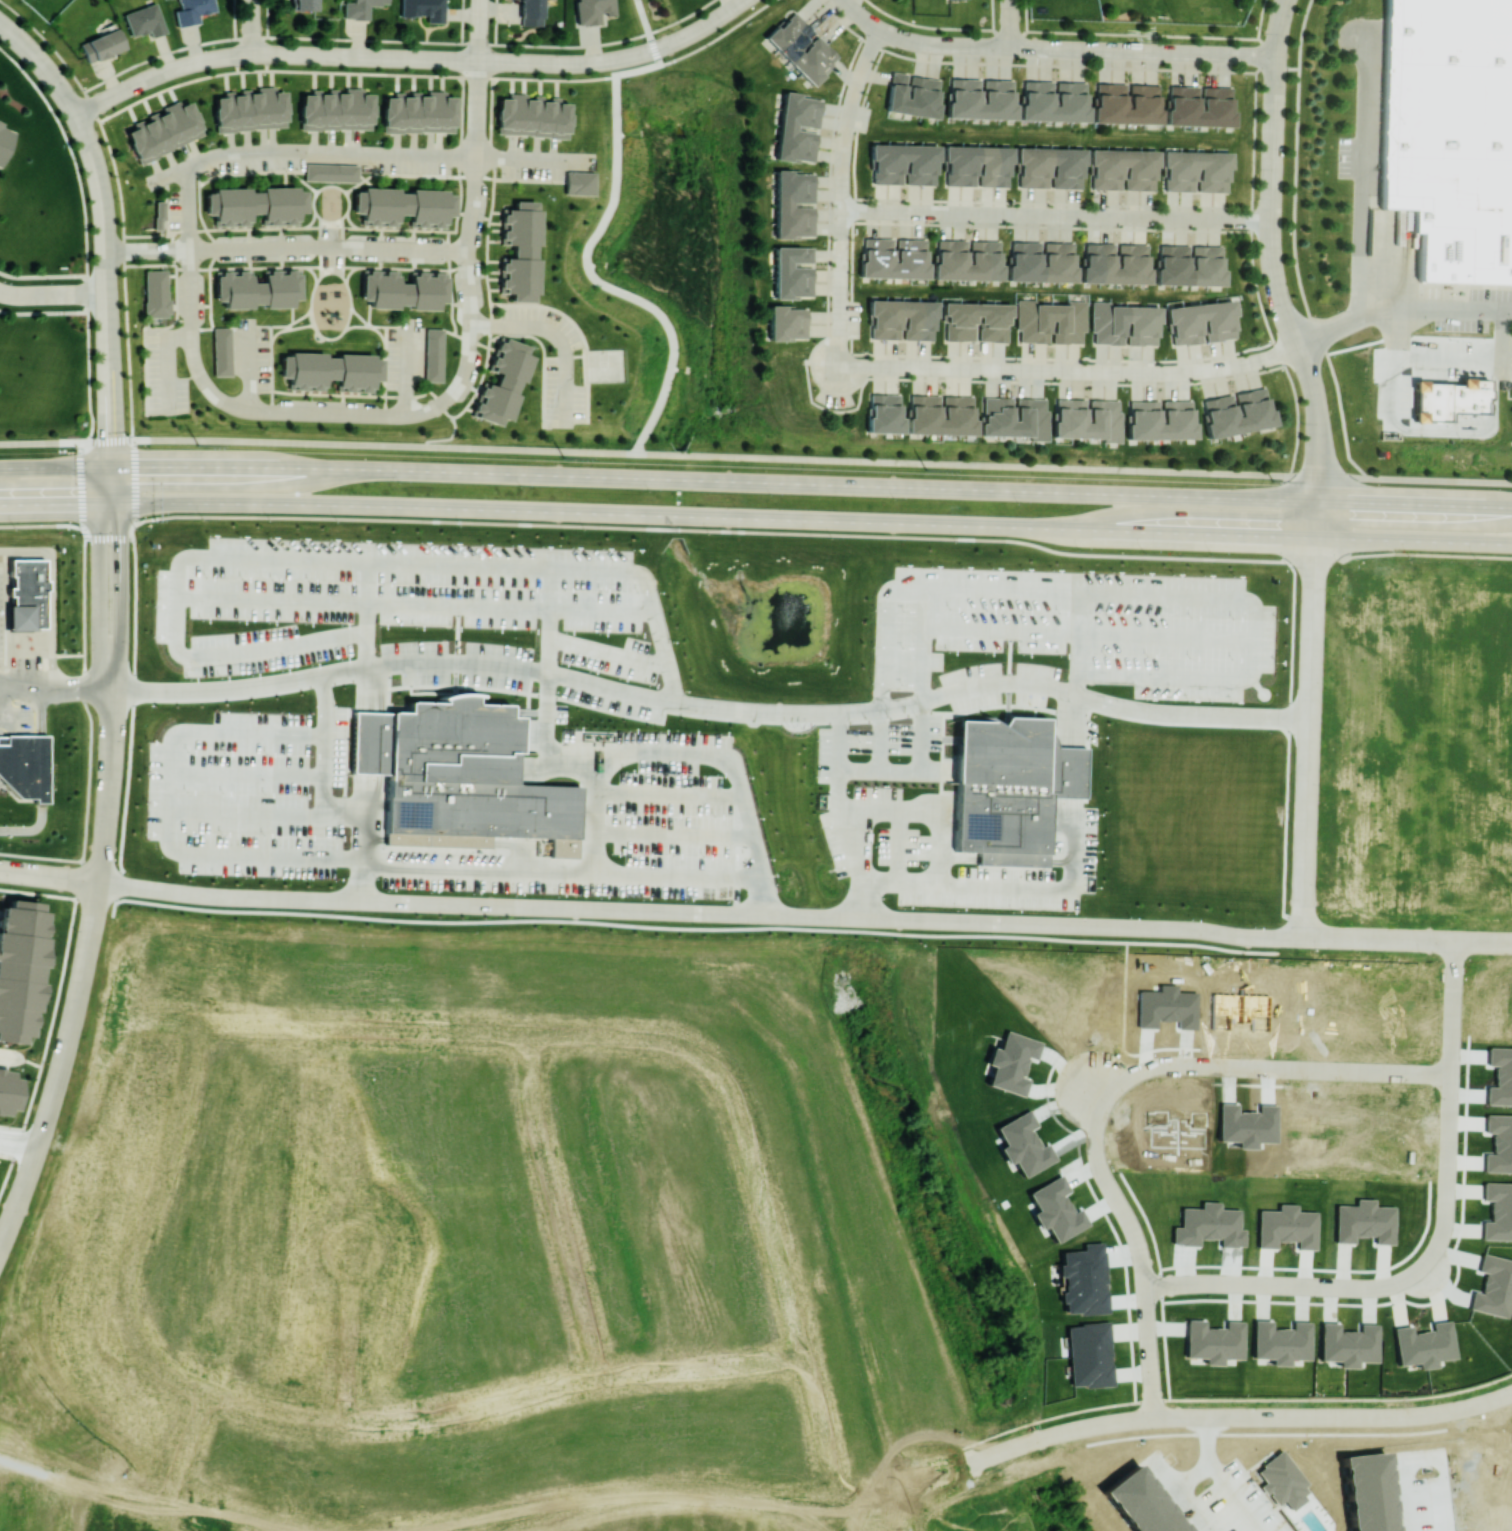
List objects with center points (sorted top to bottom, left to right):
building: (302, 4)
road: (736, 5)
building: (359, 8)
building: (423, 9)
building: (192, 10)
building: (591, 10)
building: (530, 12)
building: (145, 20)
road: (1011, 23)
road: (708, 24)
road: (254, 27)
road: (1279, 27)
road: (966, 28)
road: (479, 30)
road: (891, 33)
building: (102, 45)
road: (663, 46)
building: (801, 47)
road: (1112, 50)
road: (620, 58)
road: (469, 59)
road: (201, 61)
road: (43, 64)
building: (913, 94)
building: (980, 98)
road: (1275, 98)
building: (1054, 100)
building: (1127, 103)
building: (1200, 105)
building: (250, 109)
building: (336, 109)
building: (418, 112)
building: (532, 116)
building: (798, 127)
building: (164, 130)
road: (845, 133)
building: (1450, 133)
building: (4, 140)
road: (309, 150)
road: (475, 155)
road: (531, 157)
building: (904, 164)
building: (977, 166)
building: (1050, 167)
building: (1123, 169)
building: (1197, 171)
building: (330, 172)
road: (1362, 181)
building: (579, 182)
building: (254, 204)
building: (794, 204)
building: (404, 205)
road: (189, 207)
building: (159, 214)
road: (1272, 214)
road: (1057, 215)
road: (599, 232)
road: (287, 246)
building: (912, 249)
building: (521, 251)
building: (986, 251)
building: (1042, 261)
building: (1116, 263)
building: (1190, 264)
road: (840, 265)
road: (106, 272)
building: (793, 272)
building: (257, 289)
building: (403, 289)
road: (53, 293)
building: (155, 293)
parking lot: (1472, 310)
road: (1401, 311)
building: (903, 319)
building: (977, 321)
building: (787, 322)
building: (1051, 322)
building: (1202, 322)
building: (1124, 324)
road: (839, 327)
road: (1501, 334)
road: (558, 336)
building: (222, 351)
building: (433, 354)
road: (1301, 355)
road: (1452, 356)
road: (166, 361)
parking lot: (1502, 364)
park: (605, 368)
road: (249, 369)
building: (331, 370)
road: (1069, 371)
road: (406, 372)
road: (1391, 373)
building: (503, 382)
building: (1448, 398)
building: (884, 412)
building: (1236, 412)
road: (332, 413)
building: (940, 414)
building: (1014, 417)
building: (1087, 418)
building: (1161, 419)
road: (1481, 431)
power tower: (198, 444)
road: (1320, 447)
road: (111, 450)
road: (756, 456)
power tower: (565, 457)
road: (55, 466)
traffic signals: (111, 466)
power tower: (926, 468)
road: (715, 479)
power tower: (1273, 480)
road: (1320, 494)
road: (1416, 502)
road: (59, 503)
traffic signals: (100, 503)
traffic signals: (119, 503)
road: (719, 515)
road: (746, 531)
road: (1415, 540)
road: (1318, 541)
road: (187, 560)
road: (510, 566)
road: (100, 578)
road: (119, 578)
building: (27, 594)
road: (1146, 594)
road: (649, 595)
road: (54, 596)
road: (417, 605)
fountain: (778, 627)
road: (1078, 633)
road: (1087, 635)
road: (920, 645)
road: (608, 651)
road: (656, 695)
road: (1072, 720)
road: (131, 726)
road: (368, 740)
road: (1310, 751)
road: (671, 754)
building: (24, 764)
road: (245, 773)
road: (916, 773)
building: (459, 777)
building: (1010, 788)
road: (320, 808)
road: (166, 813)
road: (594, 814)
road: (243, 816)
road: (839, 819)
road: (898, 845)
road: (81, 867)
road: (560, 871)
road: (38, 875)
road: (87, 881)
road: (901, 881)
road: (959, 882)
road: (110, 883)
road: (455, 904)
road: (793, 916)
road: (822, 917)
road: (891, 918)
road: (637, 926)
road: (1119, 926)
road: (1407, 940)
building: (20, 967)
road: (83, 973)
road: (1125, 996)
road: (1271, 1066)
building: (7, 1089)
road: (1450, 1106)
road: (20, 1134)
building: (1499, 1143)
road: (17, 1148)
building: (1498, 1211)
building: (1364, 1221)
building: (1286, 1227)
road: (1142, 1252)
road: (1287, 1285)
building: (1493, 1286)
building: (1213, 1340)
building: (1280, 1341)
building: (1347, 1343)
building: (1423, 1344)
building: (1088, 1354)
road: (1299, 1419)
road: (1070, 1431)
road: (1022, 1446)
park: (0, 1452)
road: (43, 1459)
road: (979, 1460)
road: (42, 1465)
road: (936, 1477)
road: (1212, 1478)
road: (1390, 1491)
road: (891, 1493)
road: (631, 1496)
road: (878, 1496)
road: (177, 1508)
road: (866, 1528)
road: (459, 1530)

